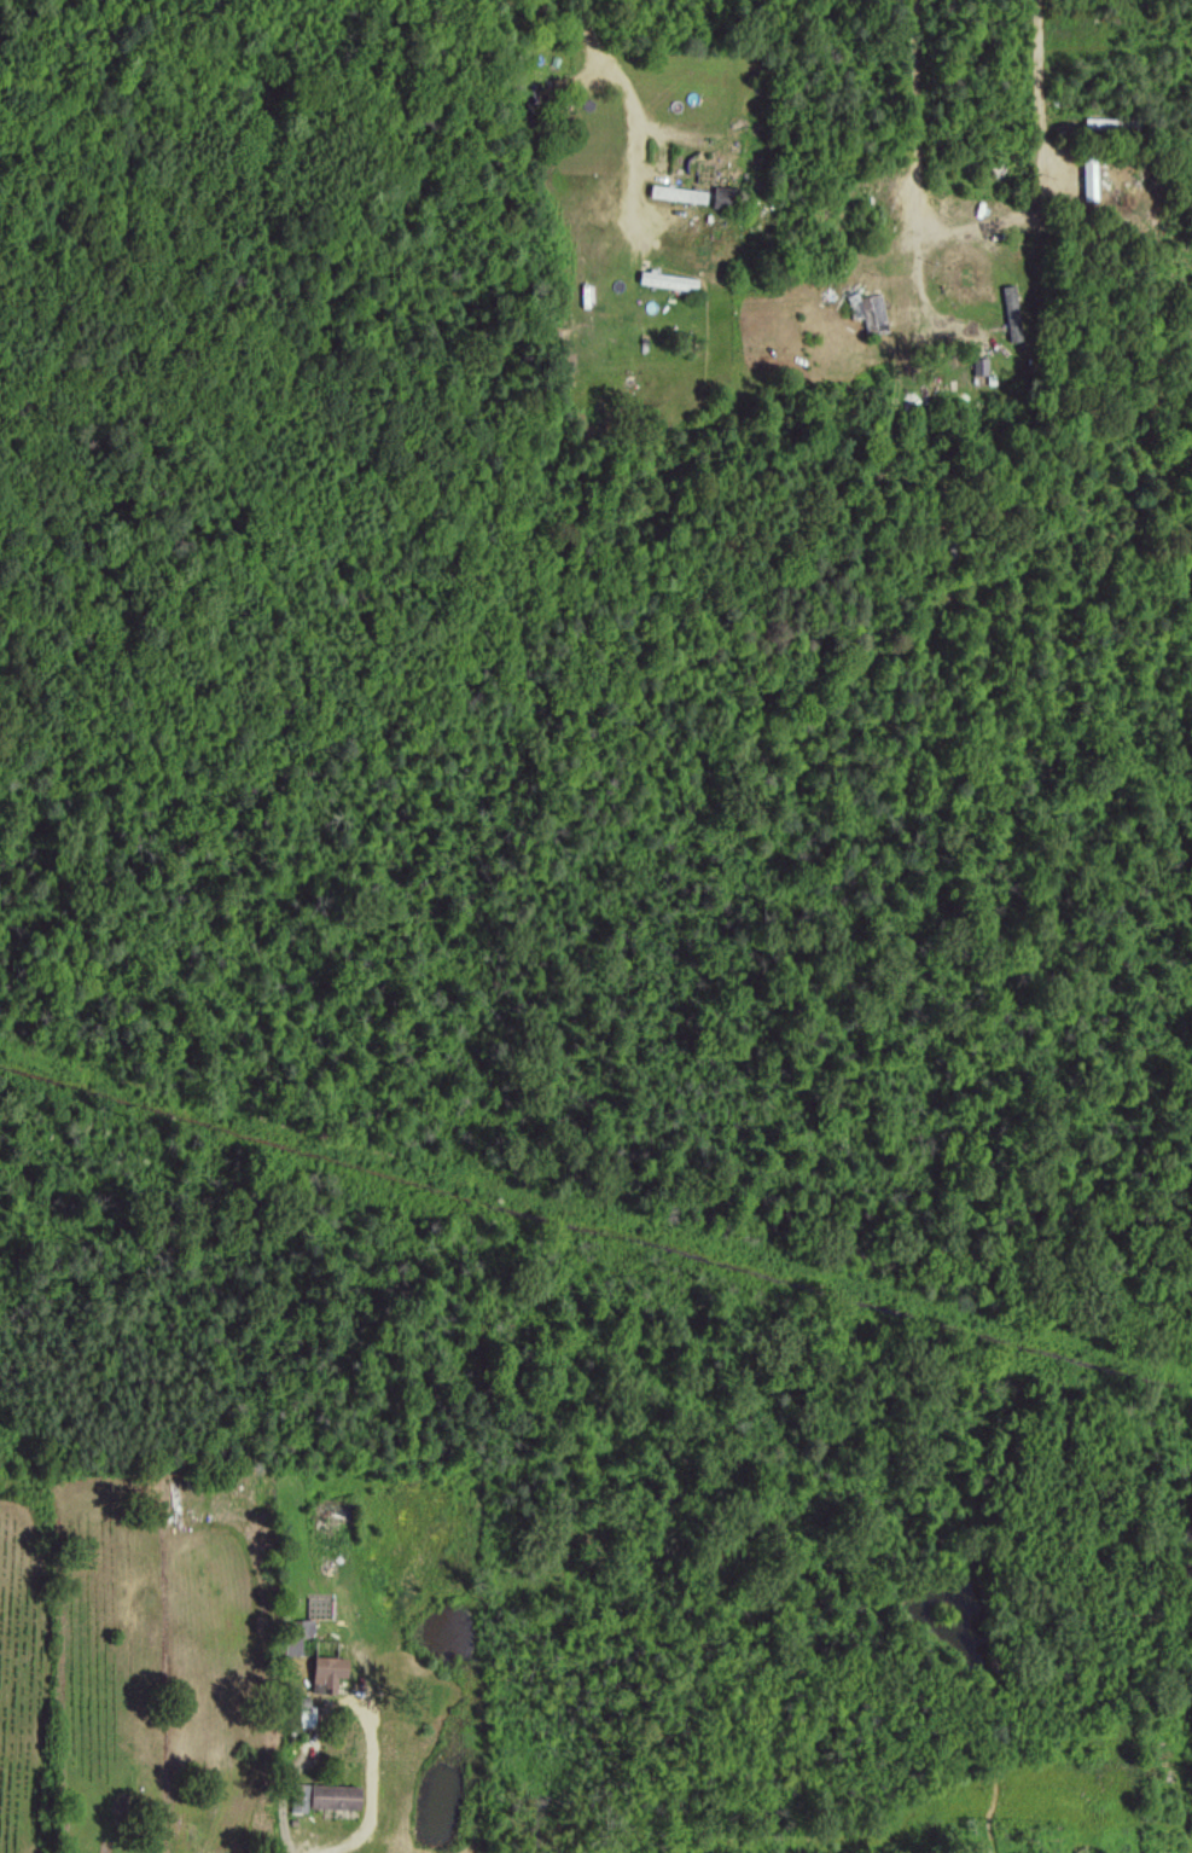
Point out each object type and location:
road: (112, 45)
road: (603, 66)
building: (676, 192)
road: (970, 225)
building: (867, 310)
building: (296, 1633)
building: (324, 1672)
road: (290, 1760)
road: (371, 1790)
building: (321, 1795)

